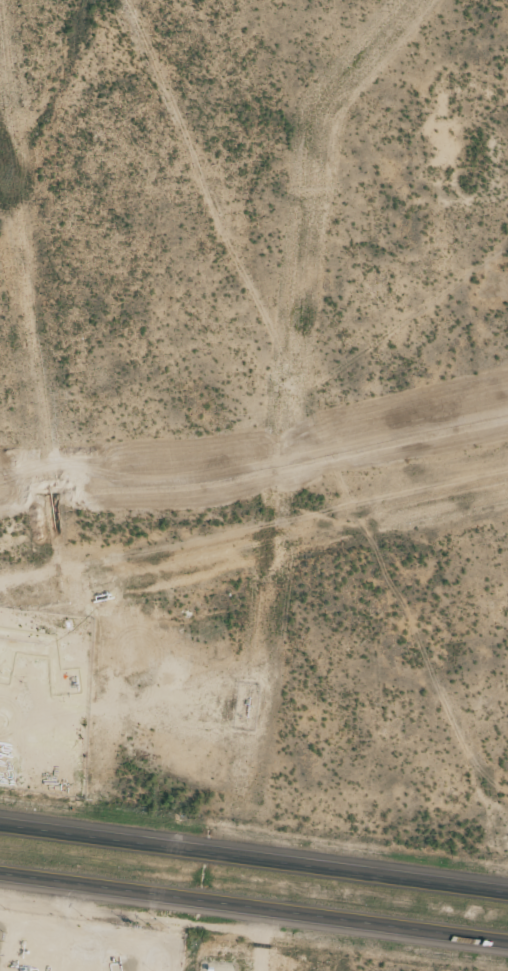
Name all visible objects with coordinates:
road: (254, 860)
road: (254, 908)

